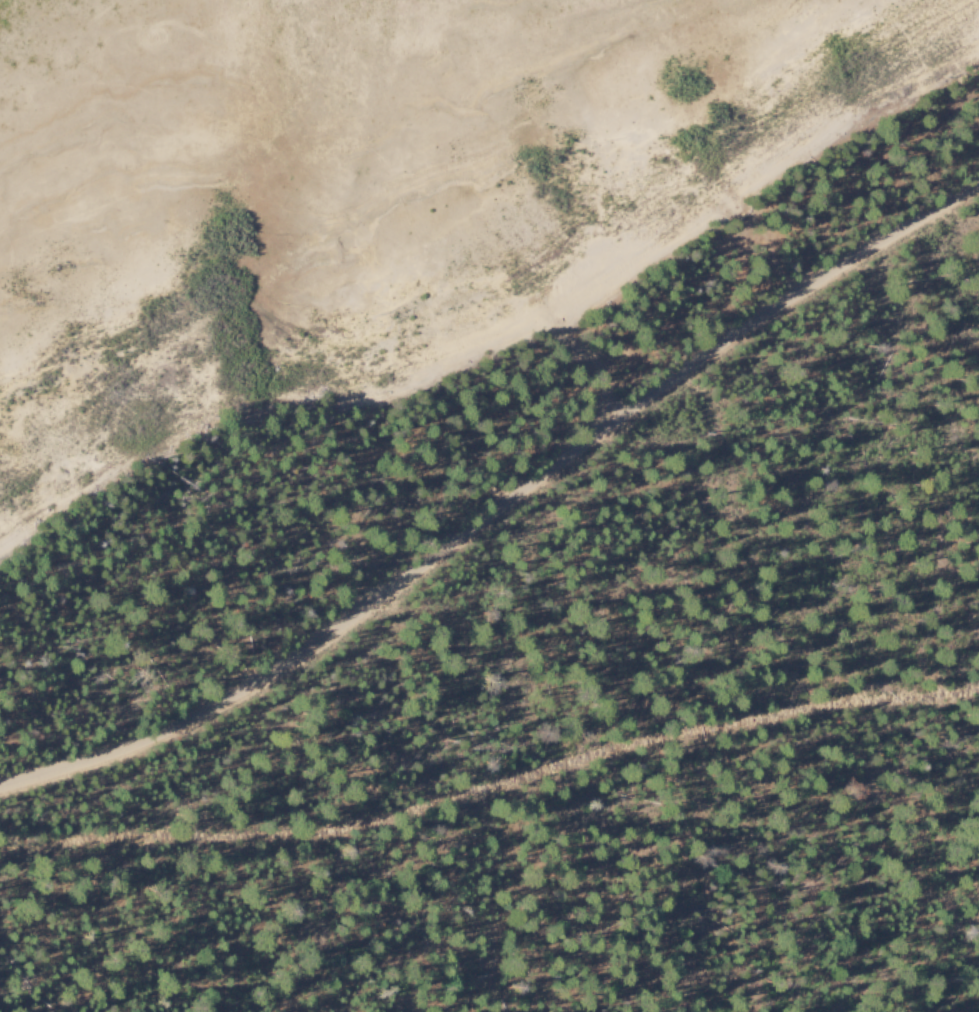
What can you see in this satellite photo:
road: (590, 375)
road: (500, 507)
road: (491, 785)

